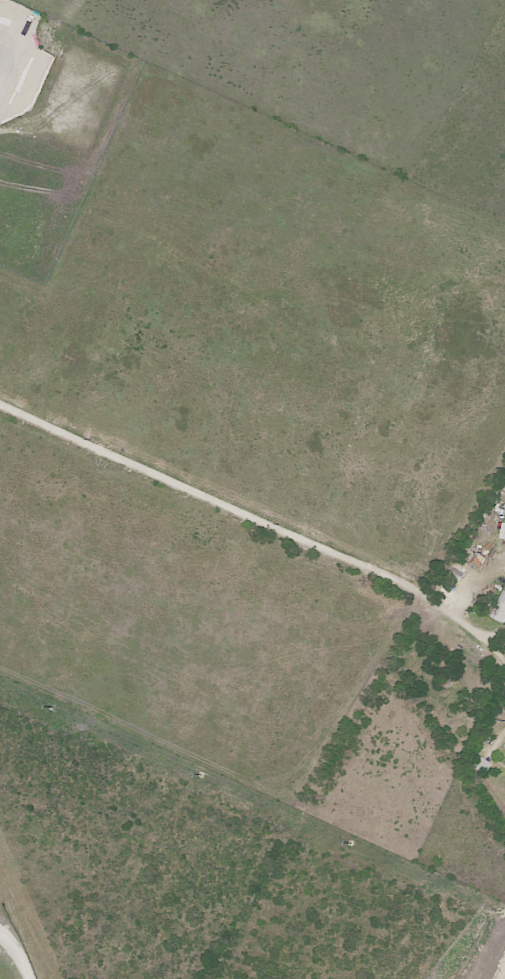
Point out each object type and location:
road: (259, 523)
building: (500, 608)
building: (481, 765)

